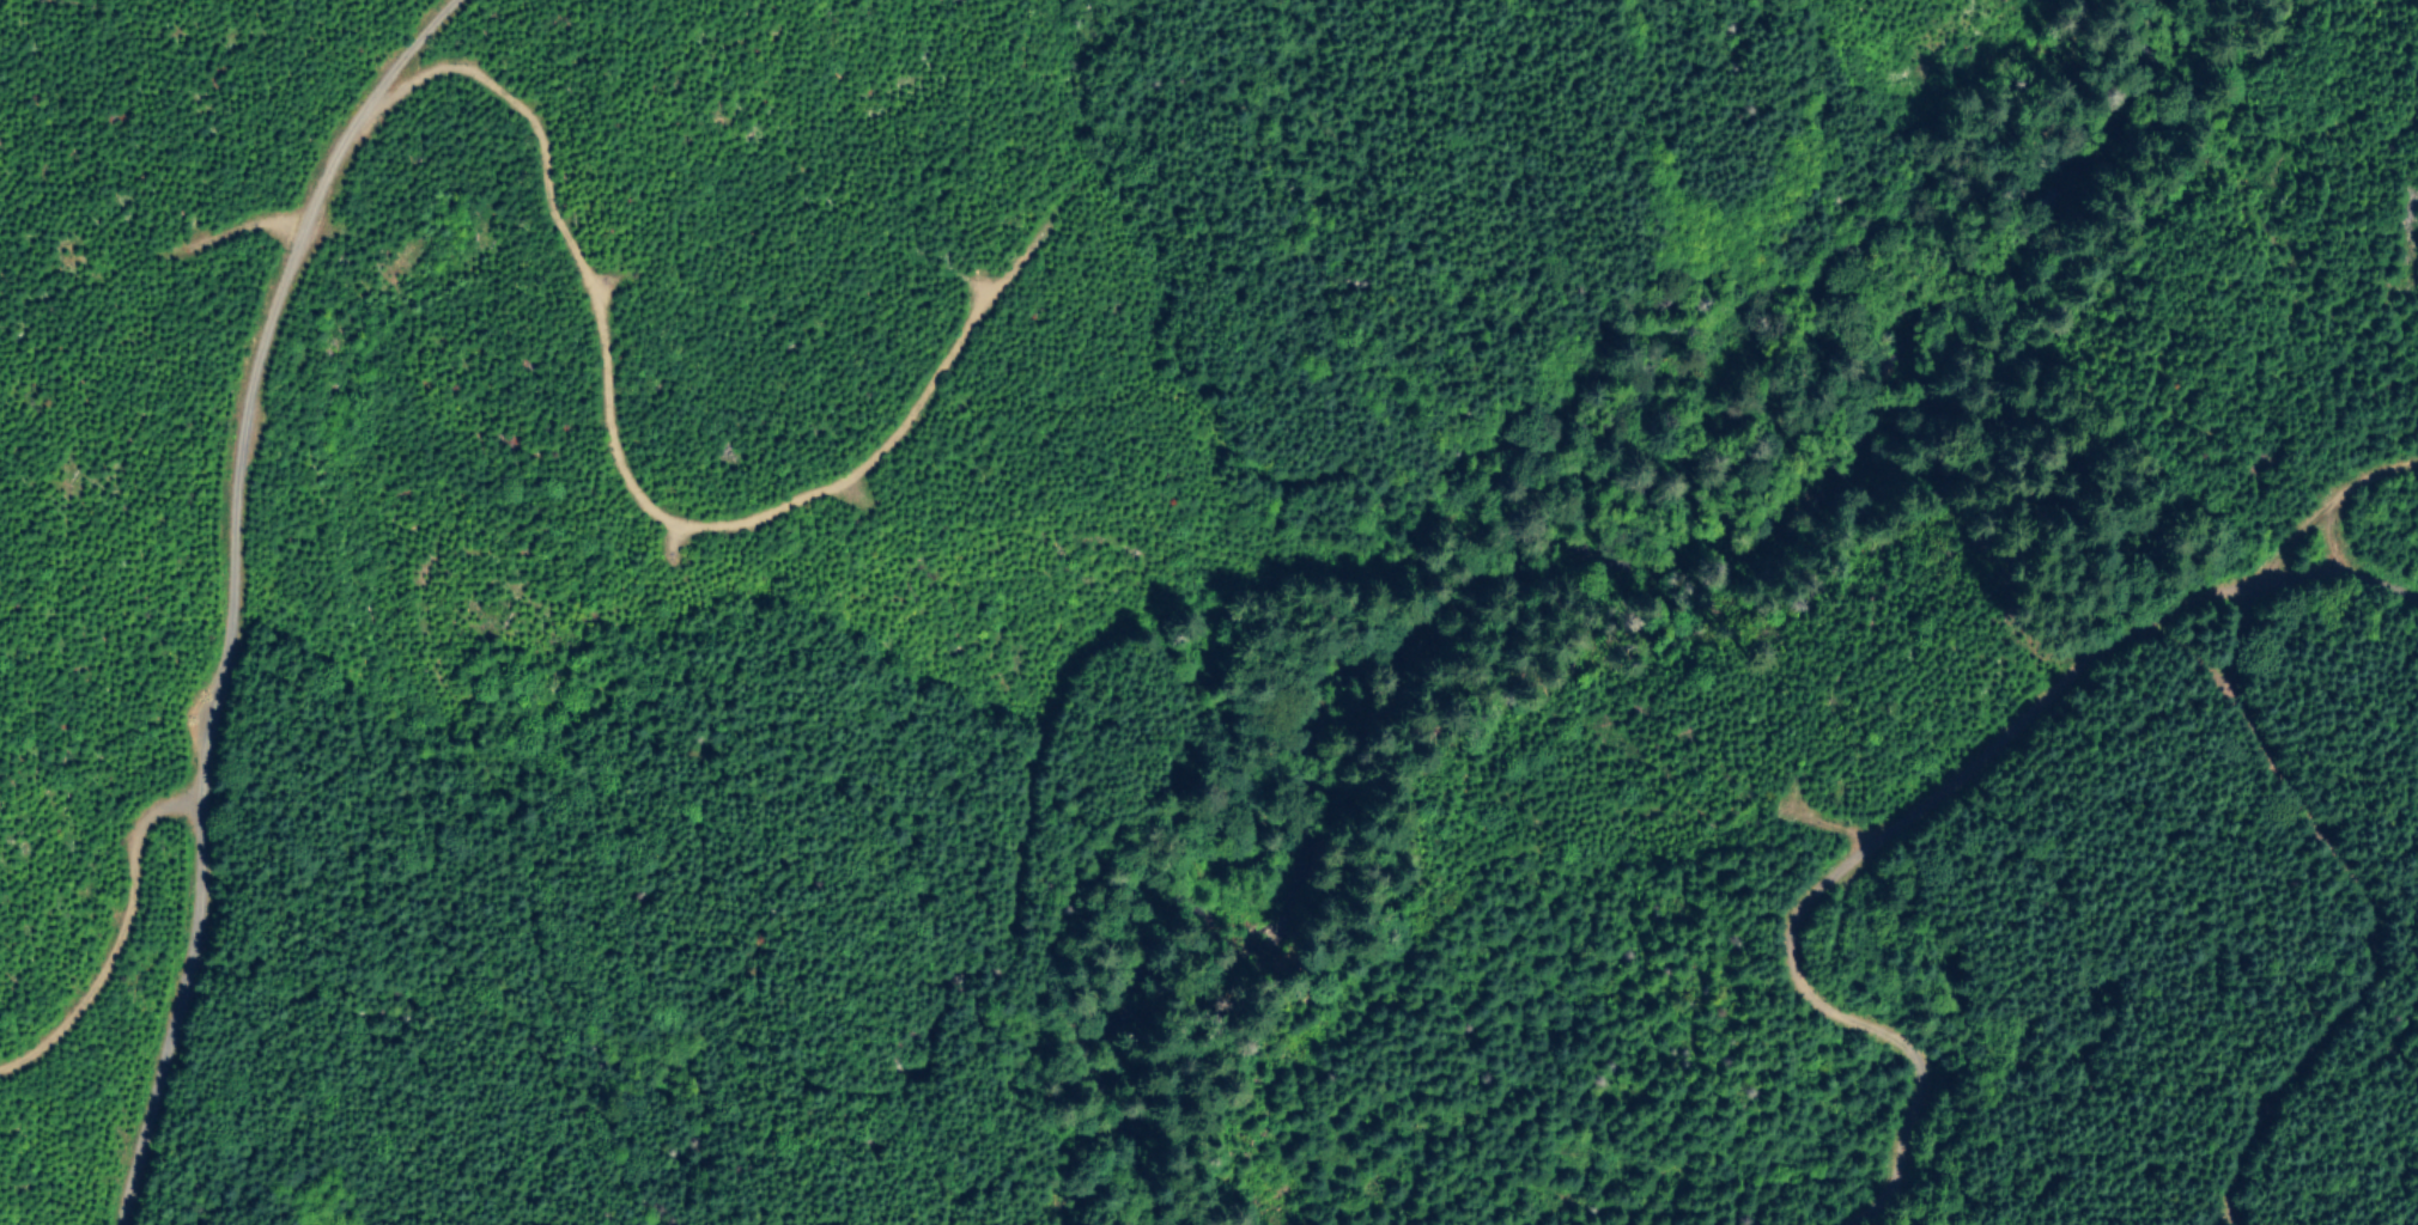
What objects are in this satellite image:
road: (278, 580)
road: (192, 1000)

